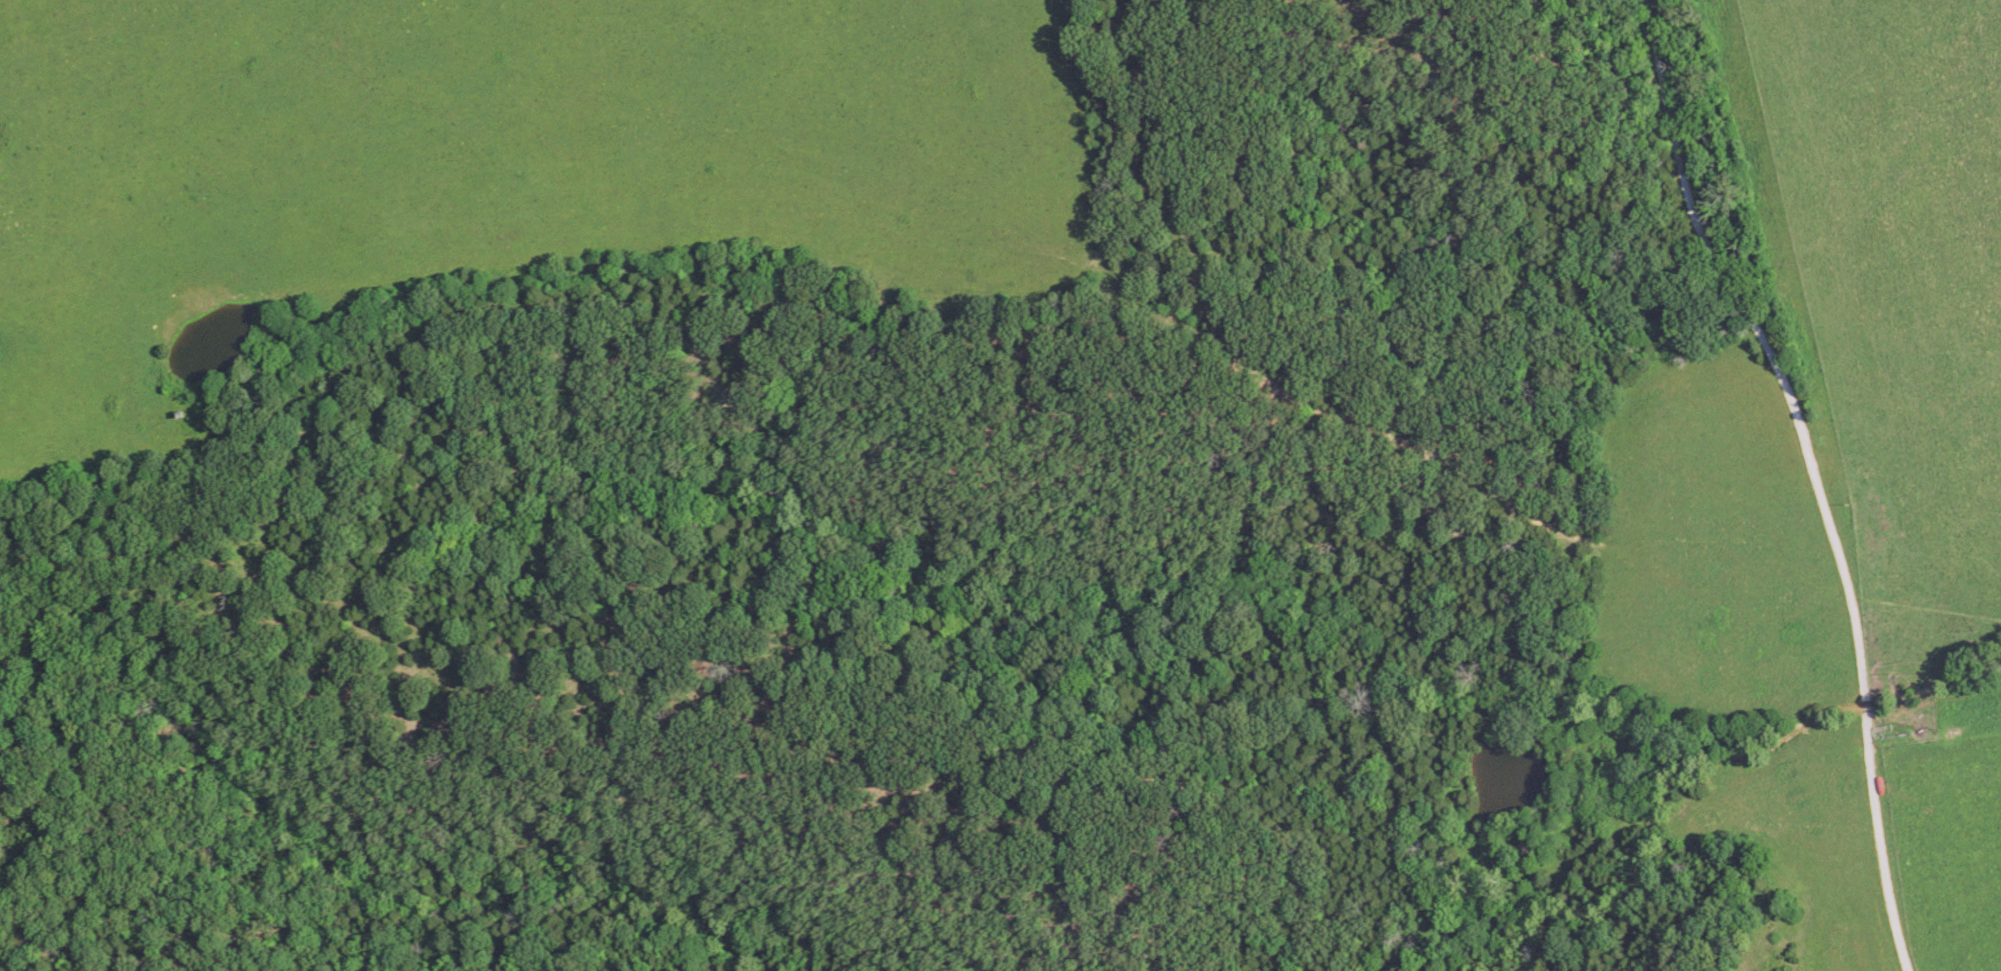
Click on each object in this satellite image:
road: (1818, 473)

